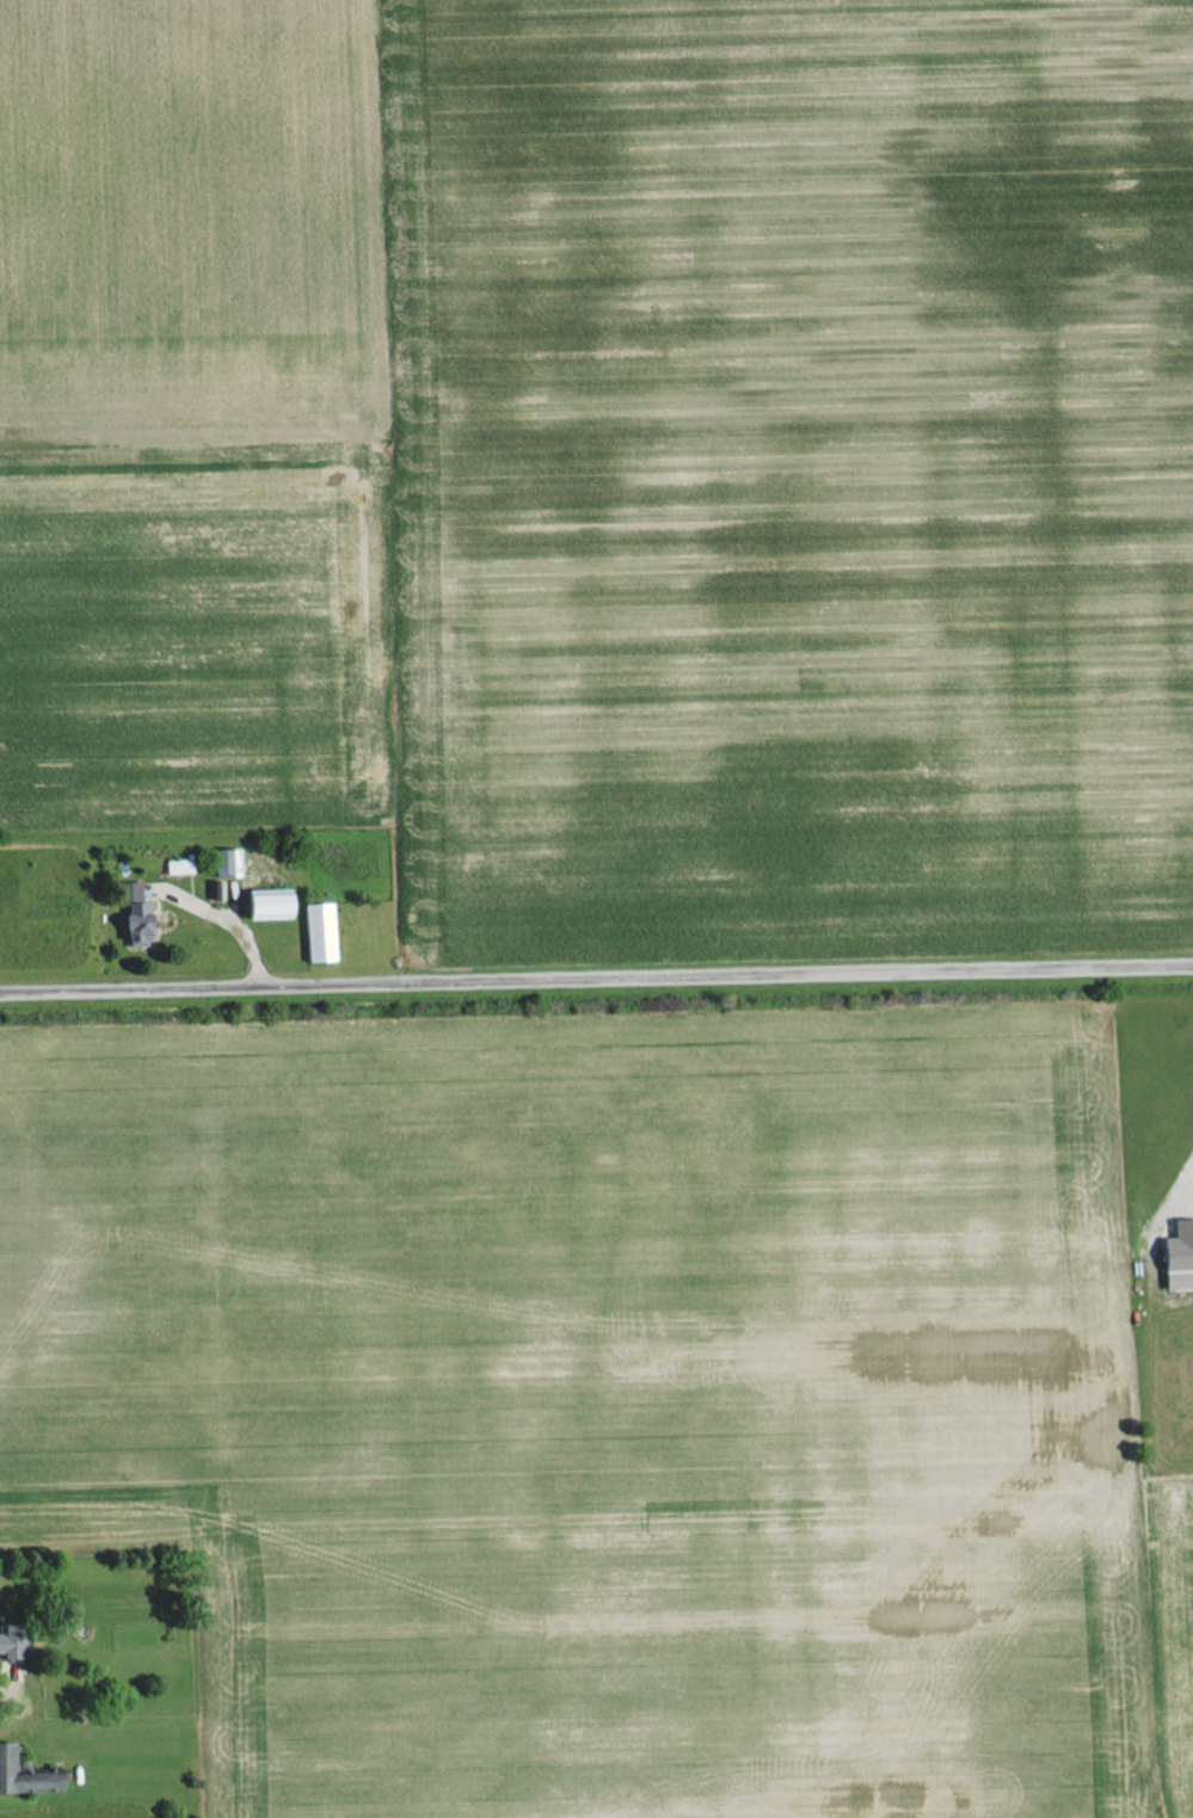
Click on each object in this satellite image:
building: (227, 863)
building: (270, 904)
building: (139, 925)
building: (319, 932)
road: (596, 972)
building: (1177, 1257)
crop: (608, 1403)
building: (11, 1641)
crop: (1175, 1645)
building: (25, 1777)

